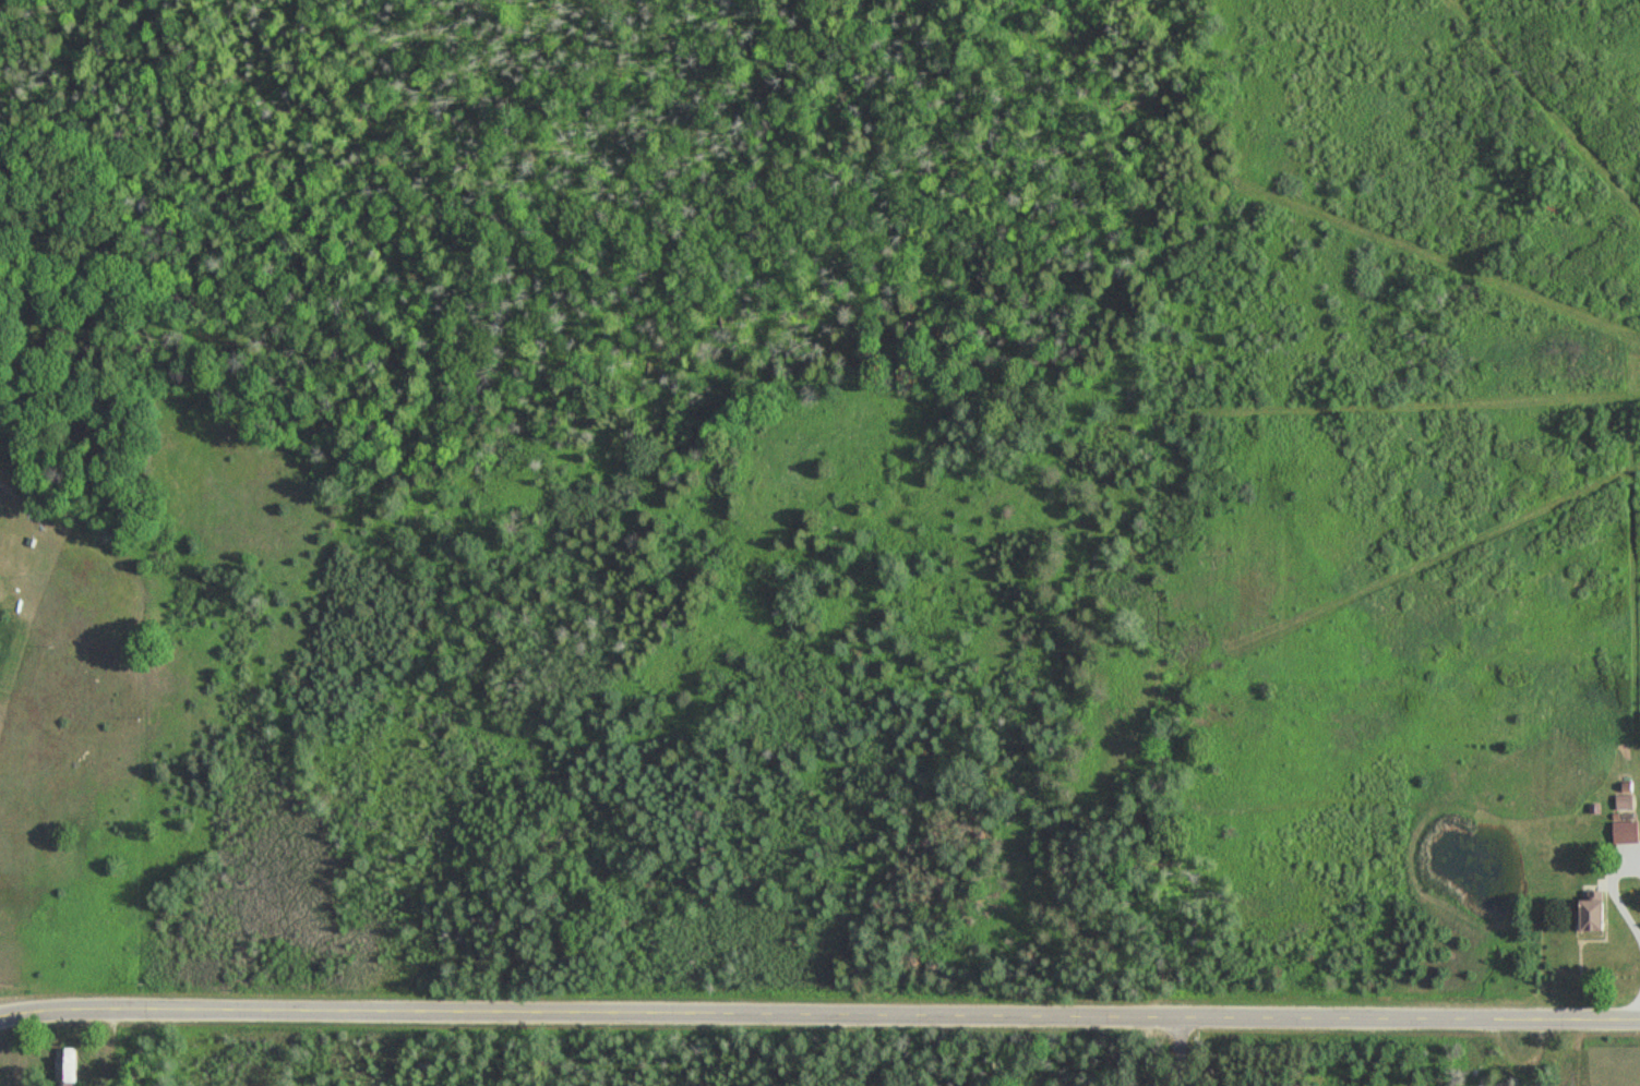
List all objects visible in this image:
building: (0, 575)
building: (1628, 831)
building: (1600, 910)
road: (819, 1019)
road: (1161, 1051)
road: (914, 1053)
building: (69, 1064)

